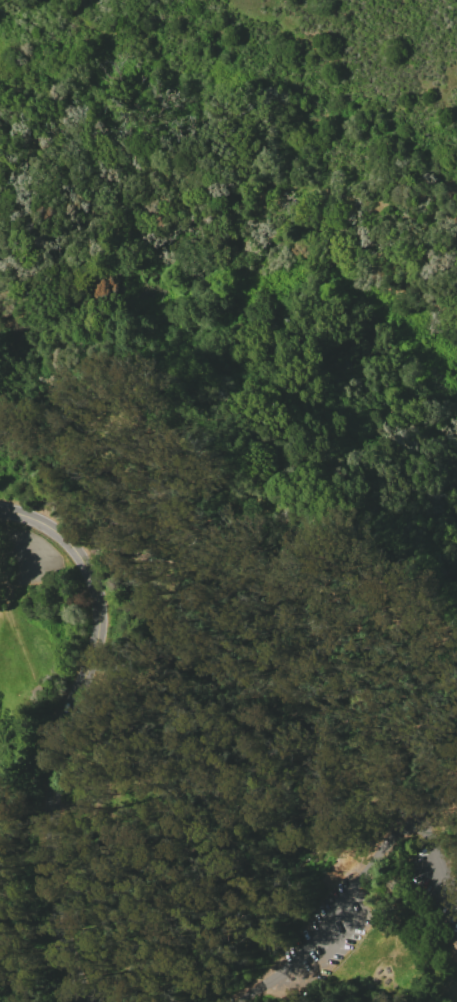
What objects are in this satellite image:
road: (224, 230)
road: (5, 551)
parking lot: (29, 558)
road: (55, 731)
road: (371, 877)

